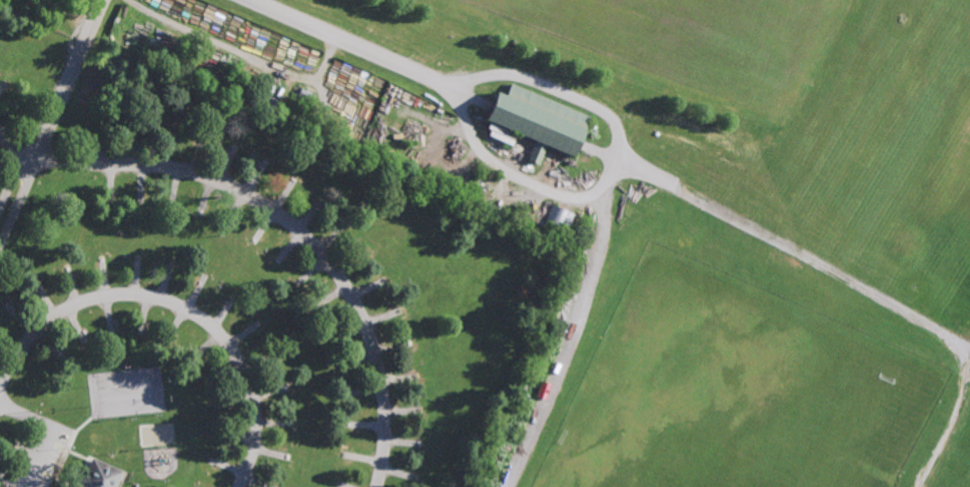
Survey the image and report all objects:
park: (694, 37)
road: (350, 44)
road: (575, 97)
road: (48, 113)
building: (537, 122)
road: (501, 167)
road: (282, 217)
park: (485, 243)
road: (793, 253)
road: (174, 306)
building: (111, 325)
road: (567, 341)
park: (744, 398)
road: (44, 442)
building: (100, 475)

